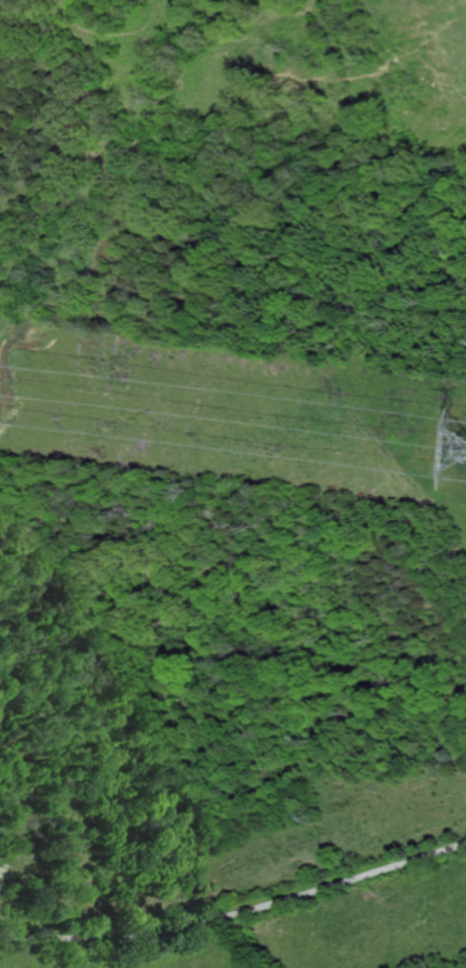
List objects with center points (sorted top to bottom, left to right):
road: (236, 916)

